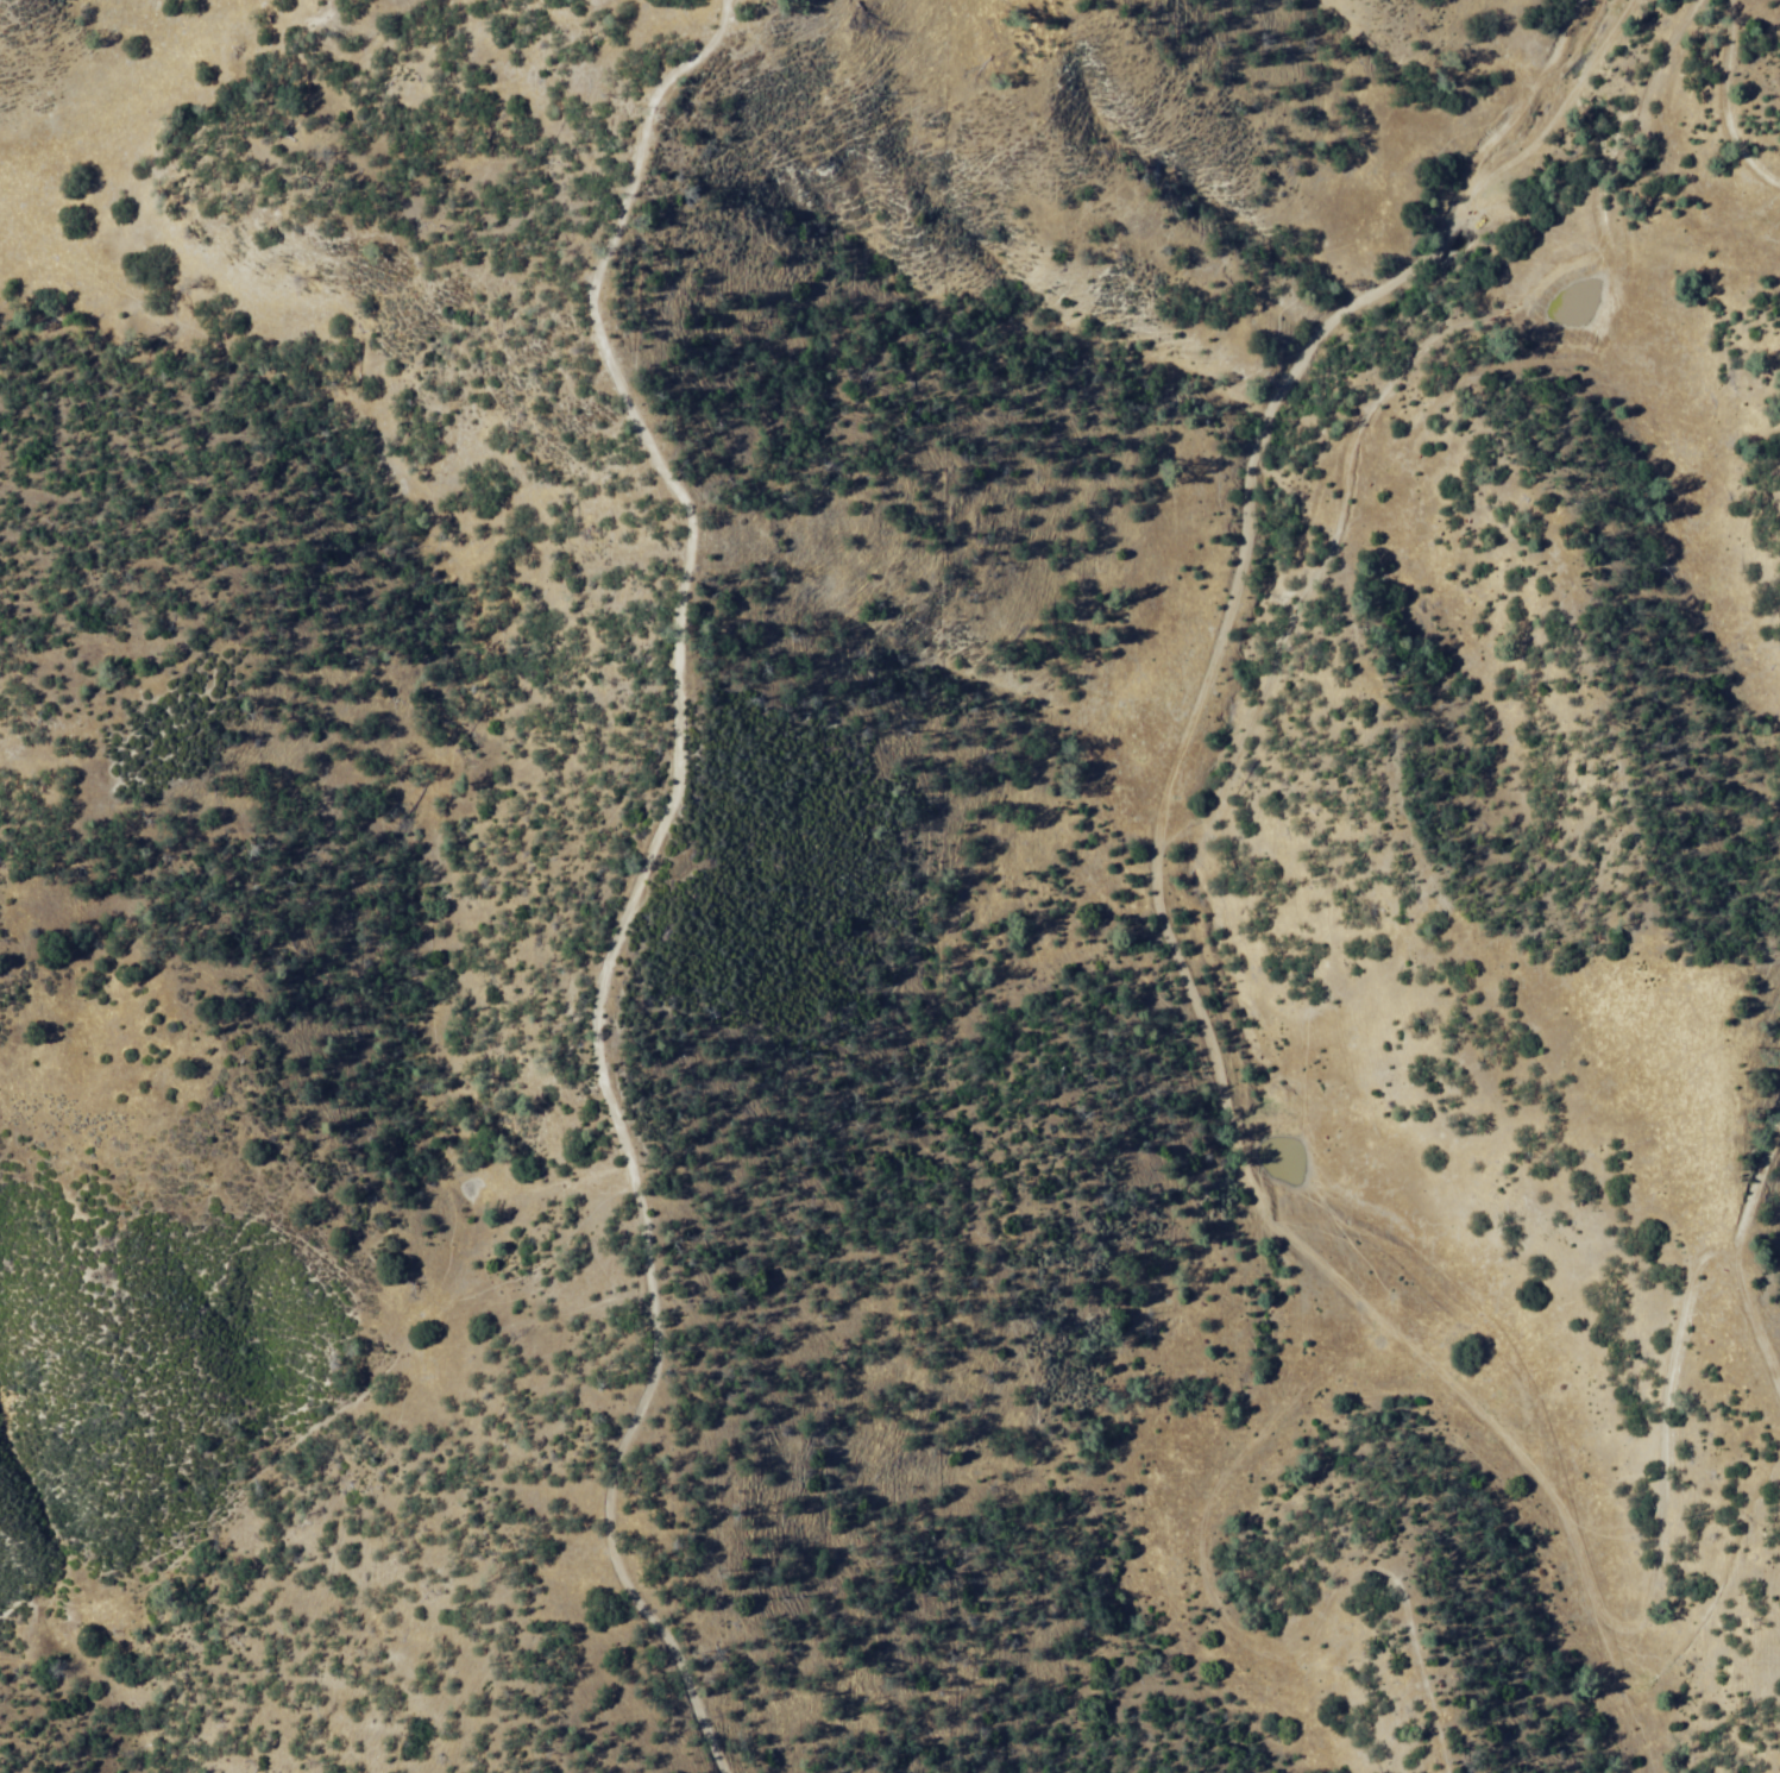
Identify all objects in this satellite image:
road: (642, 881)

